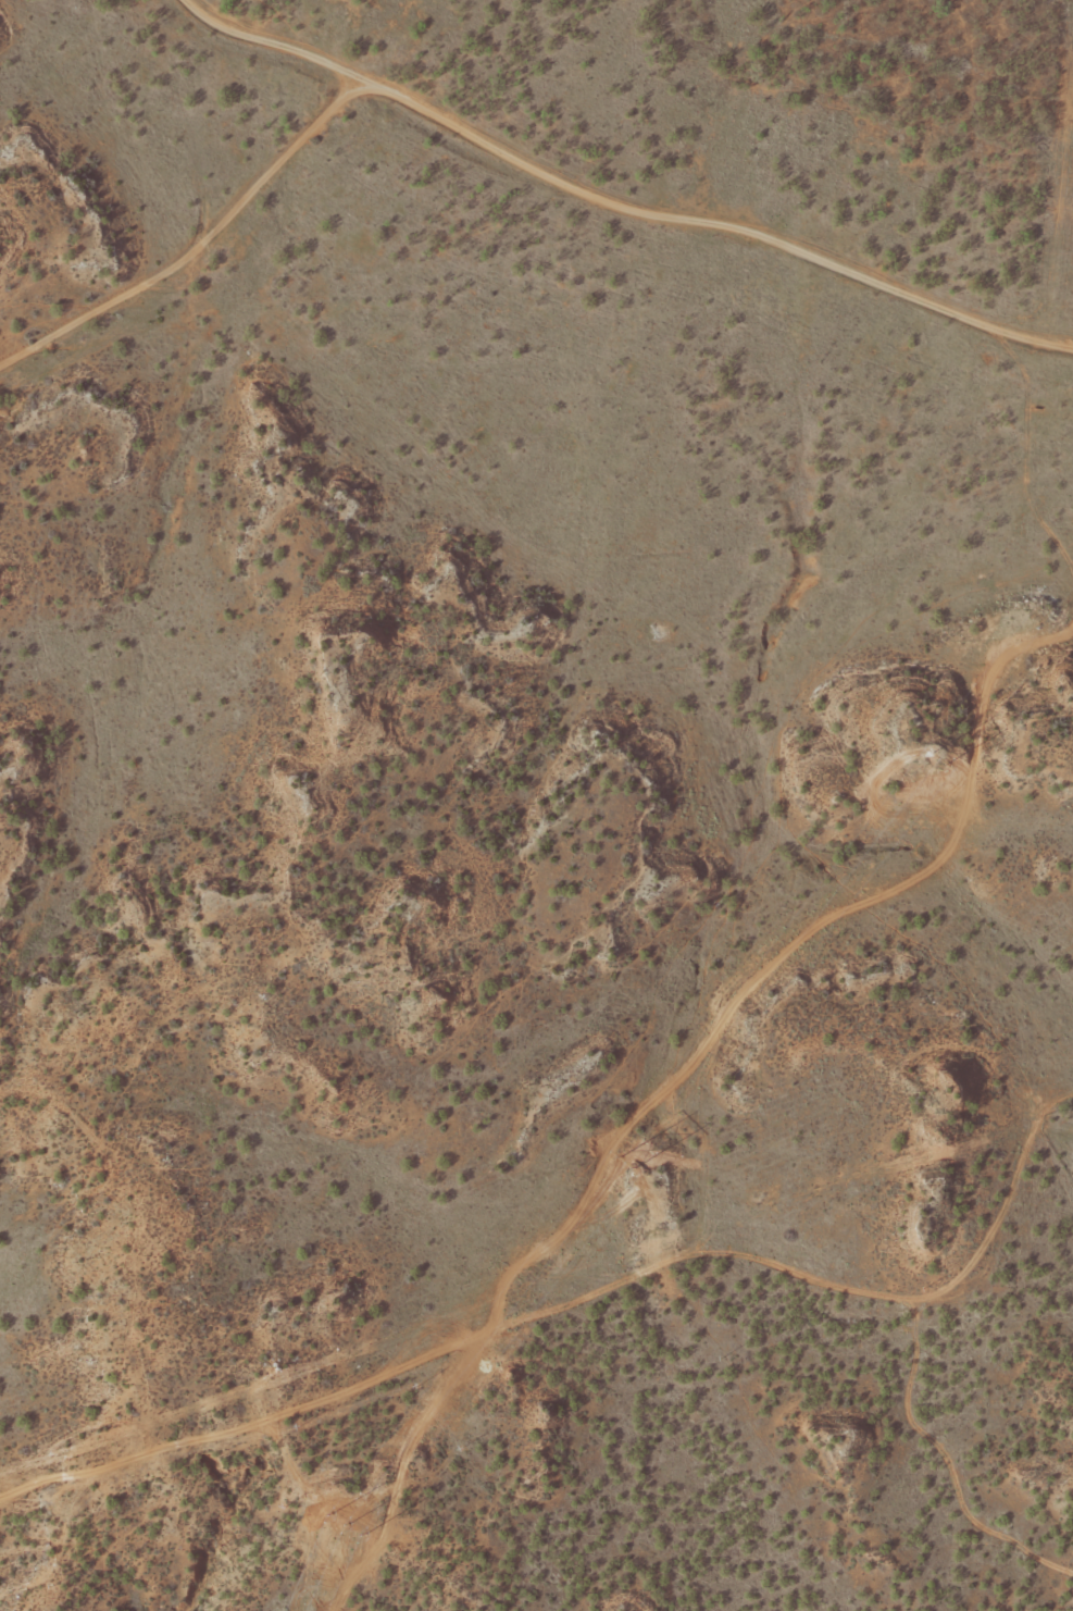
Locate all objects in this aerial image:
road: (585, 207)

